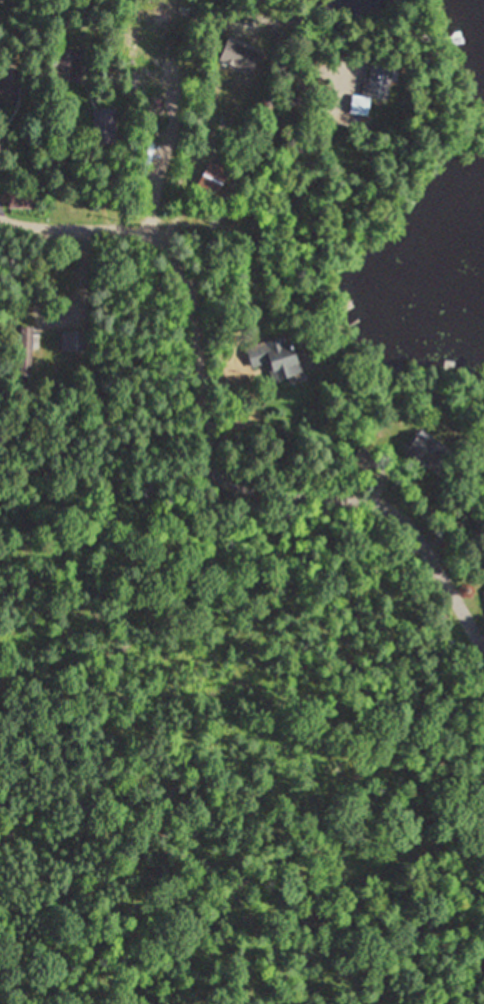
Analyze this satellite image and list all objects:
building: (140, 36)
building: (239, 54)
building: (69, 64)
building: (10, 87)
building: (372, 87)
building: (104, 125)
building: (214, 177)
road: (253, 267)
building: (73, 340)
building: (24, 352)
building: (276, 357)
road: (212, 436)
building: (430, 452)
building: (364, 457)

